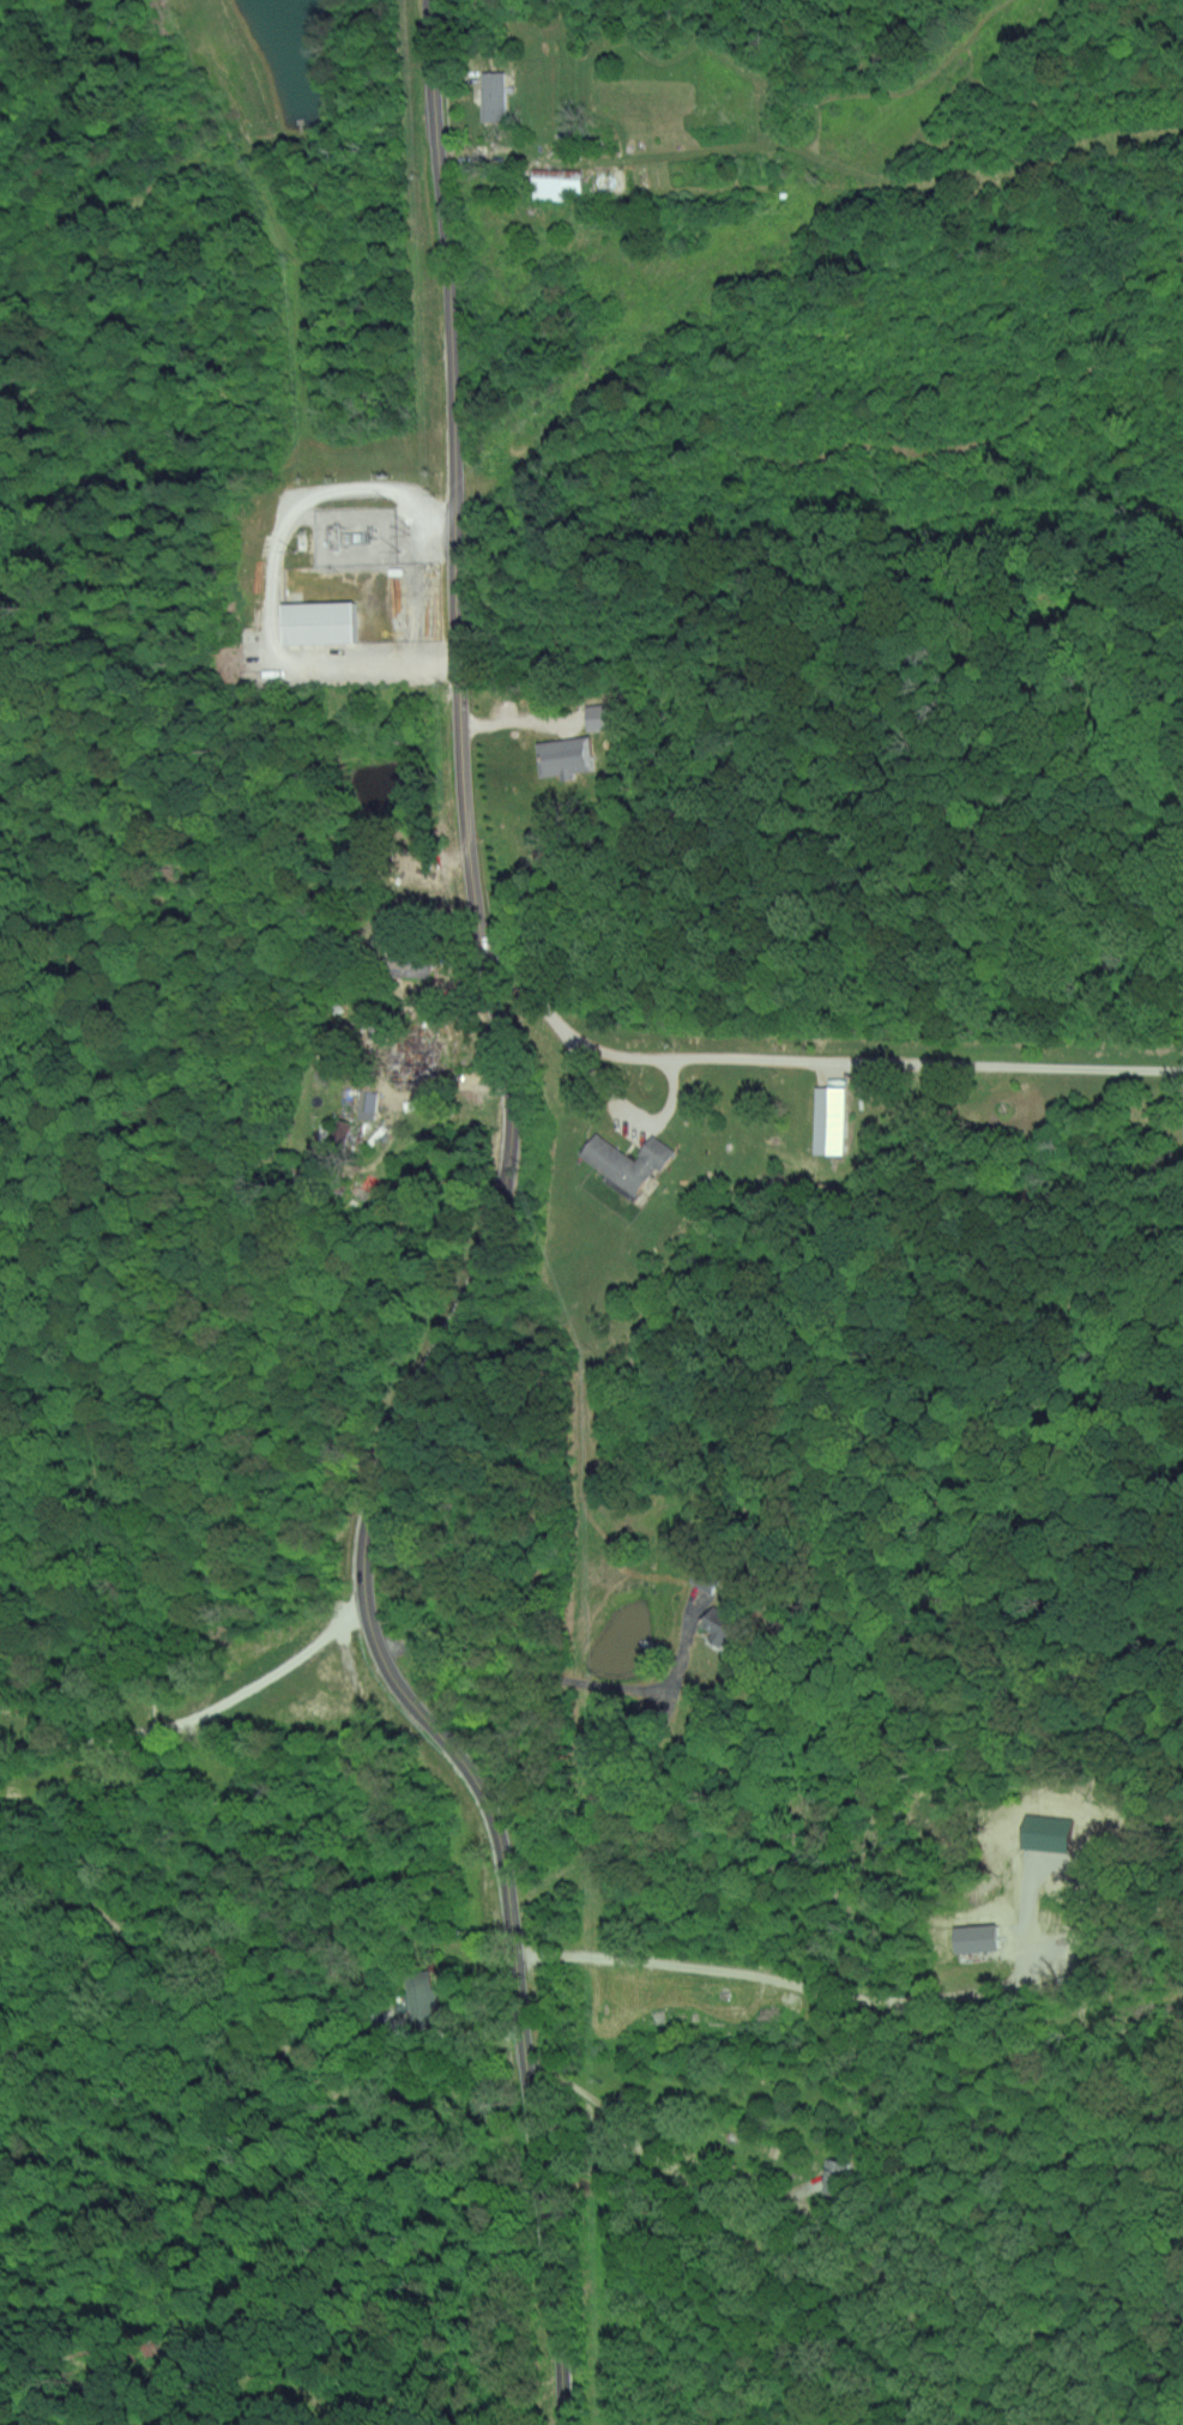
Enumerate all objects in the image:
building: (493, 97)
road: (274, 578)
building: (314, 621)
building: (593, 716)
building: (562, 755)
building: (405, 964)
road: (817, 1061)
building: (412, 1063)
building: (367, 1100)
road: (627, 1117)
building: (827, 1120)
building: (342, 1128)
building: (623, 1160)
road: (495, 1244)
building: (717, 1629)
road: (556, 1676)
road: (225, 1705)
building: (972, 1938)
road: (775, 1980)
road: (459, 2035)
road: (647, 2135)
building: (834, 2174)

